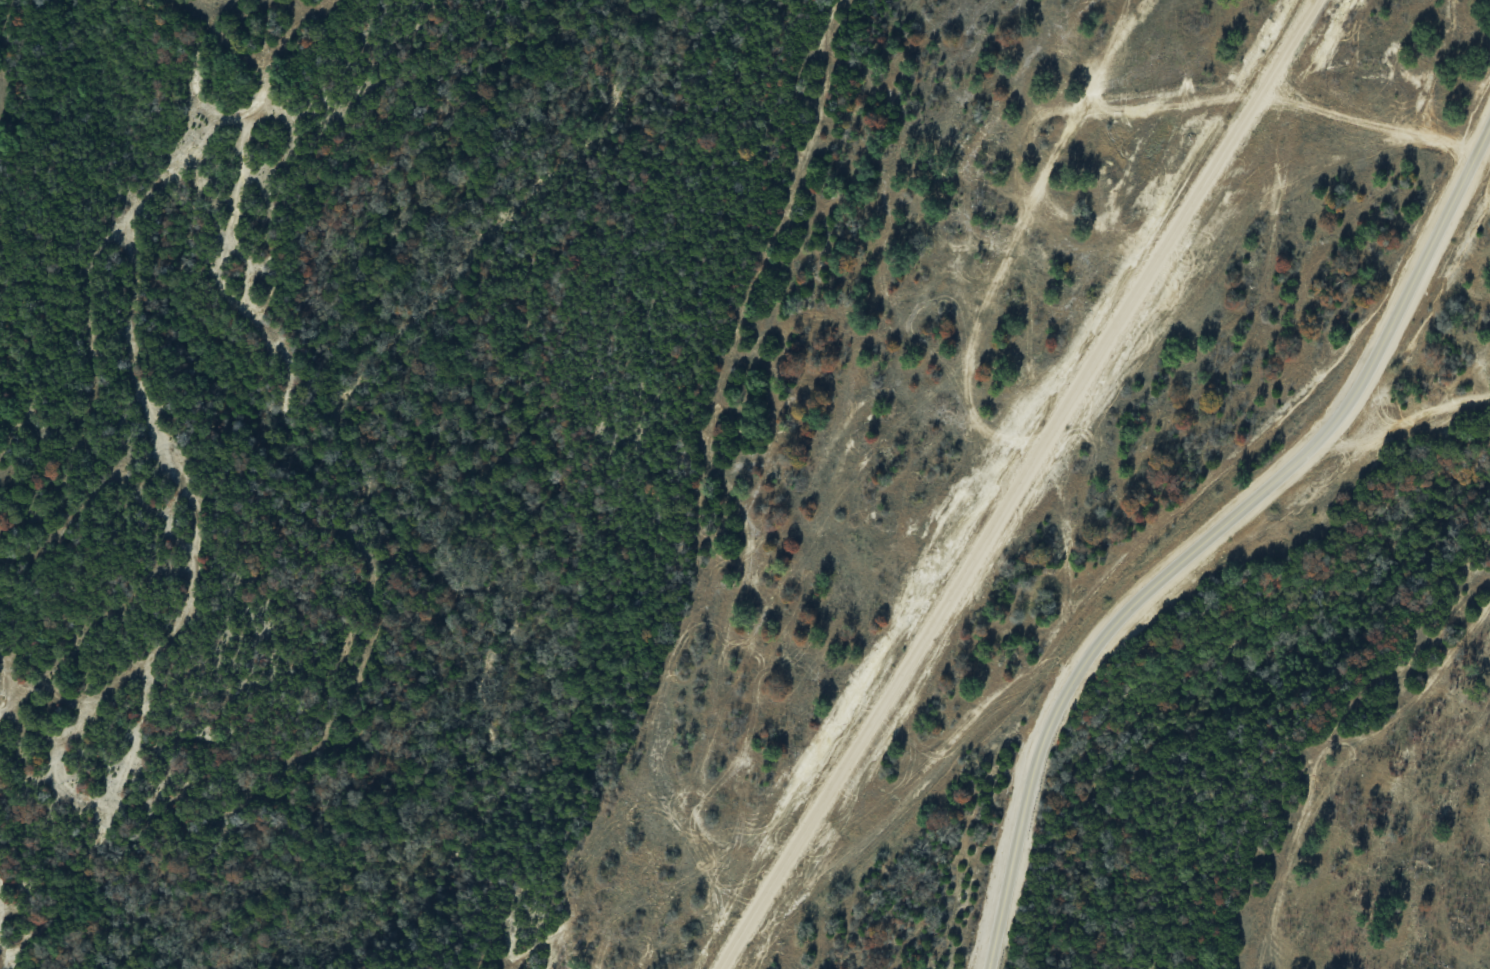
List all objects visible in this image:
road: (1022, 485)
road: (1211, 548)

